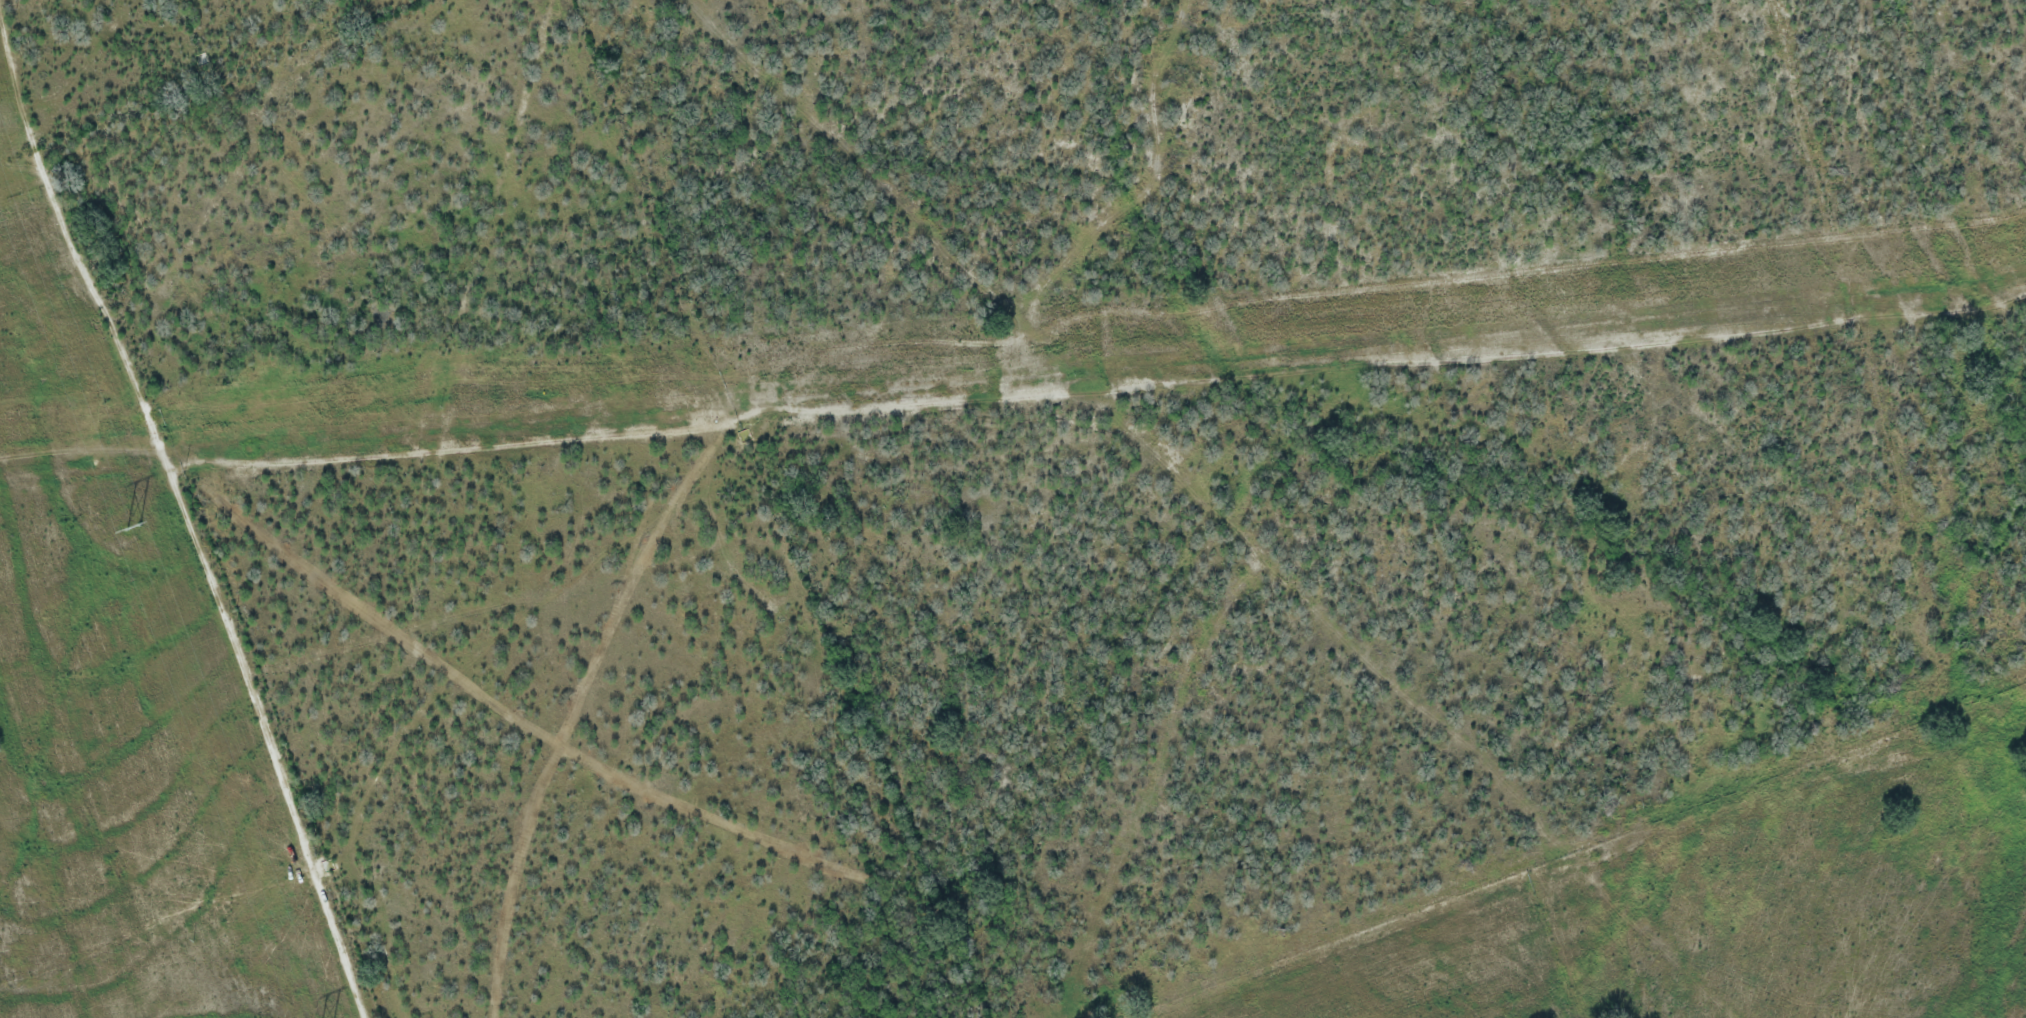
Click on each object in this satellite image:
road: (172, 512)
power tower: (131, 527)

